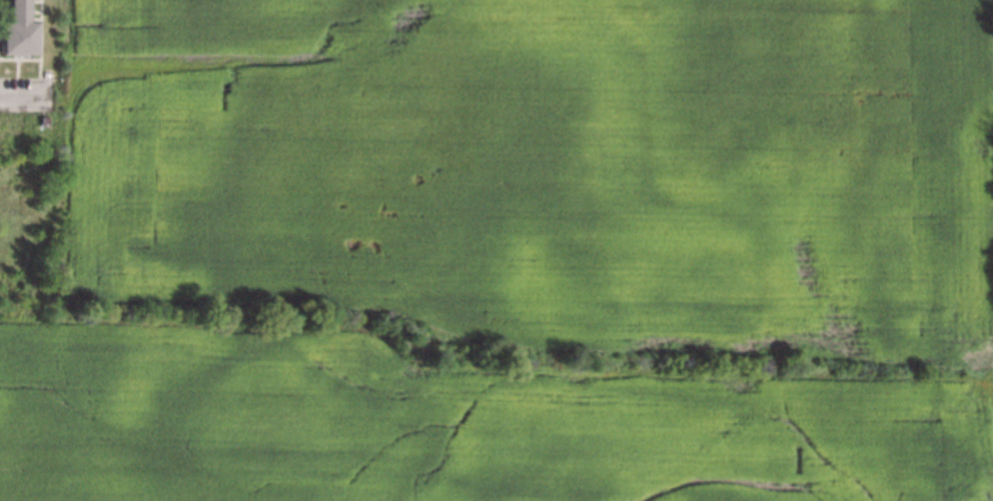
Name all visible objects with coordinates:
building: (17, 30)
road: (15, 98)
building: (44, 121)

